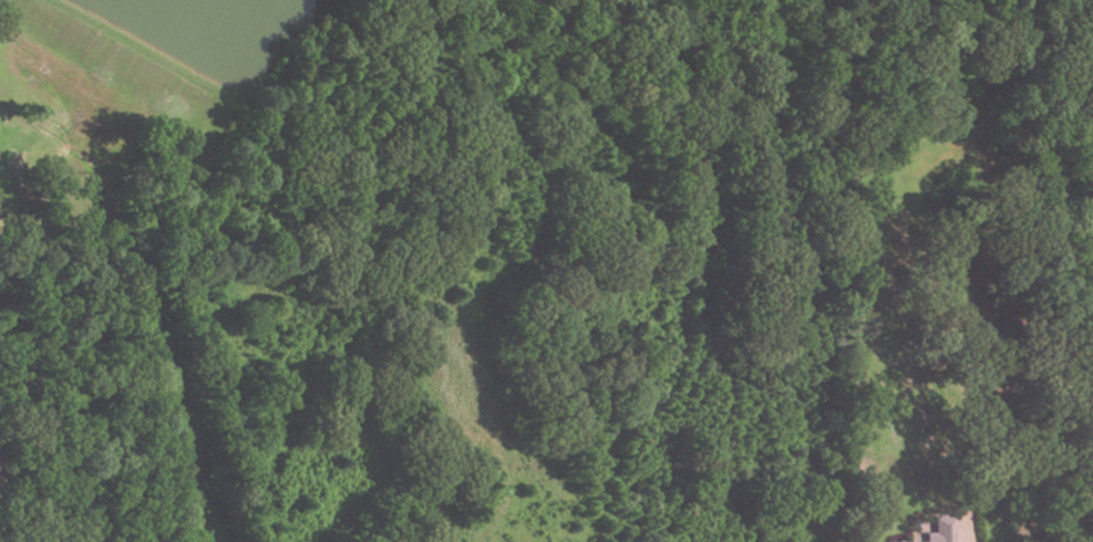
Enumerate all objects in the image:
road: (966, 530)
building: (938, 531)
building: (903, 541)

